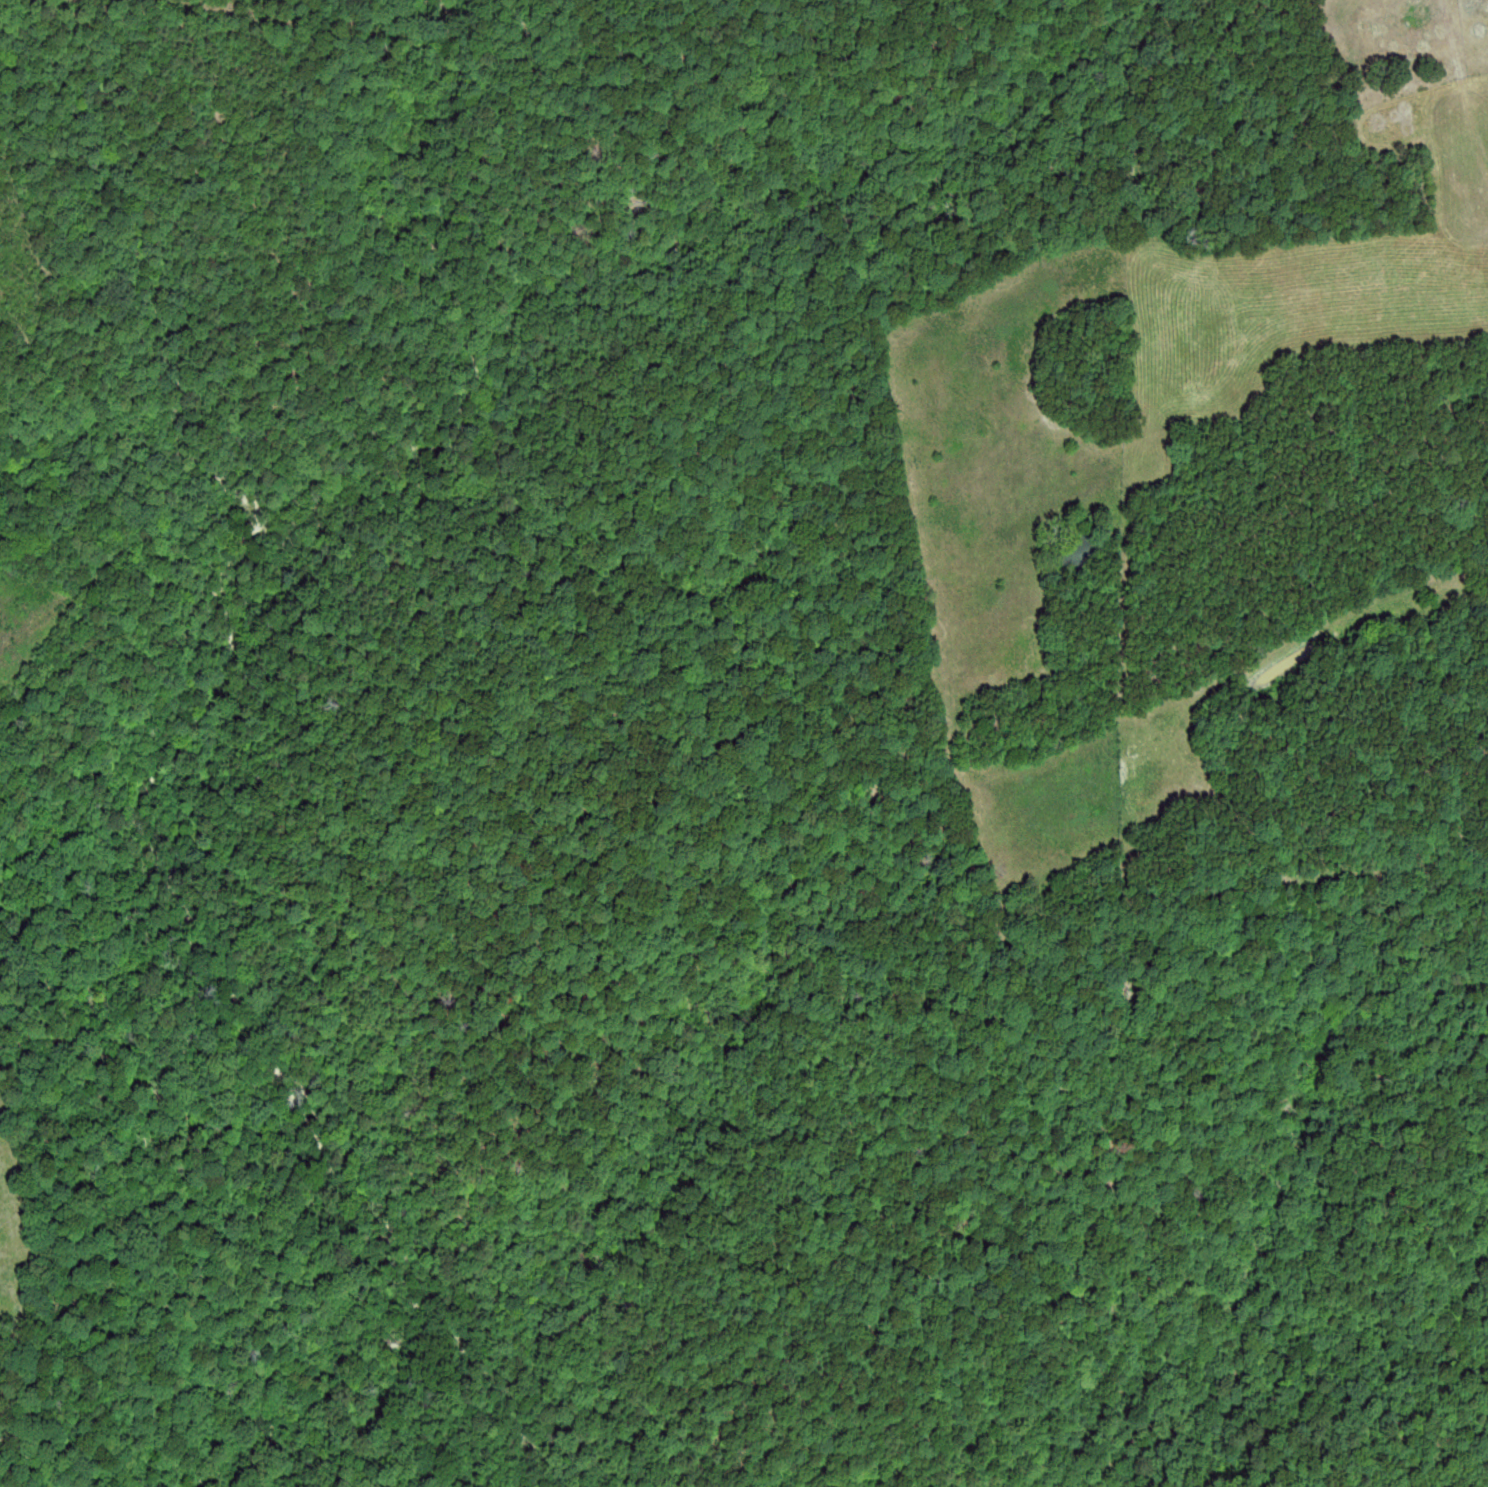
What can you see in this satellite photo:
road: (48, 261)

